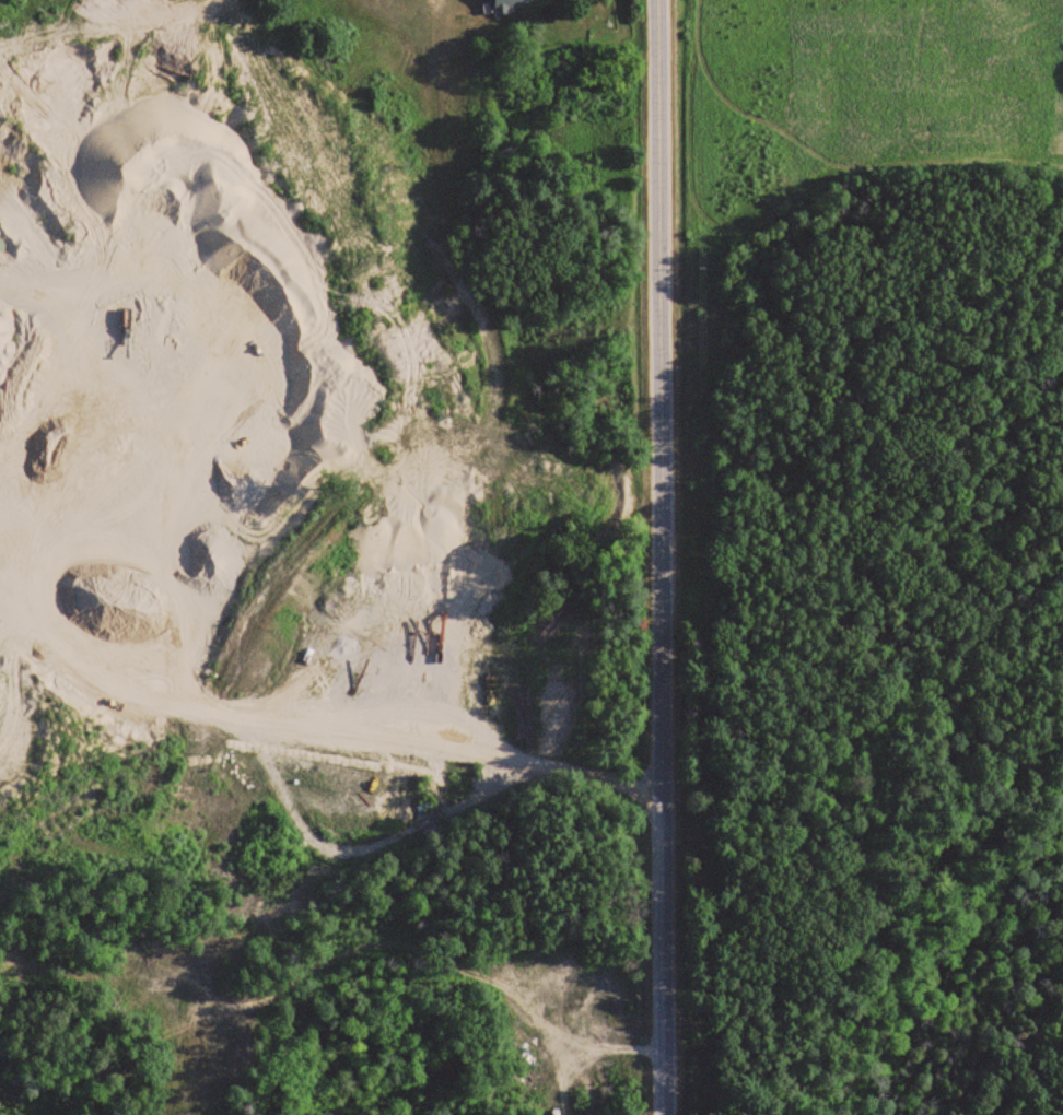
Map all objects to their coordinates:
building: (506, 4)
quarry: (242, 421)
road: (666, 557)

